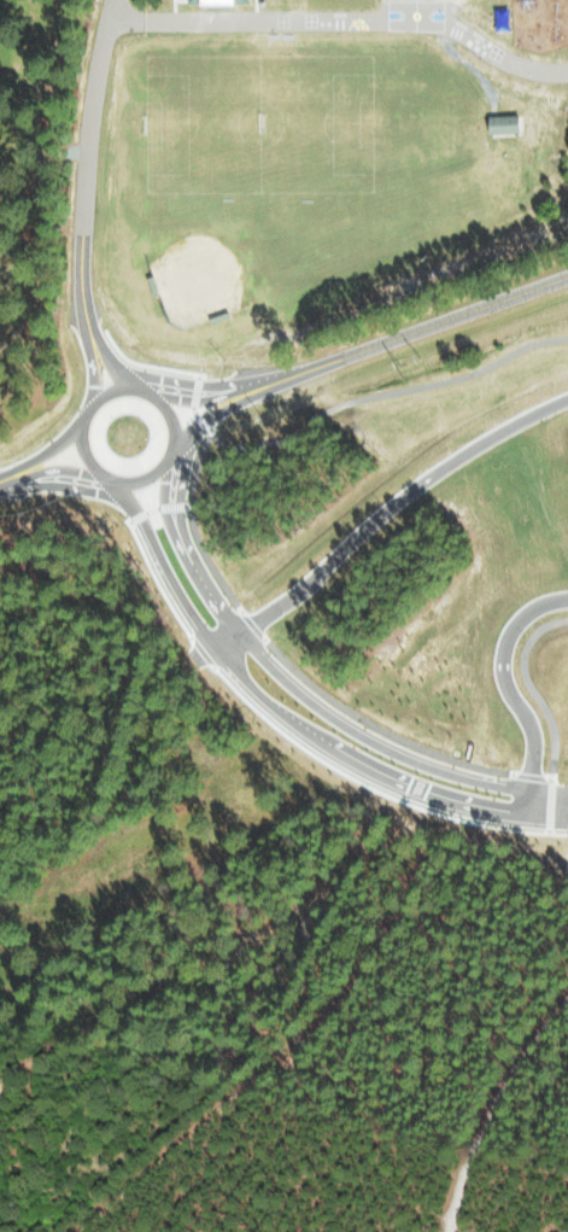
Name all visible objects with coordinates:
building: (212, 1)
building: (499, 122)
road: (82, 159)
road: (410, 332)
road: (111, 357)
road: (90, 364)
road: (182, 381)
road: (379, 393)
road: (203, 398)
road: (207, 416)
road: (43, 452)
road: (51, 468)
road: (99, 473)
road: (181, 479)
road: (72, 486)
road: (394, 501)
road: (216, 644)
road: (509, 690)
road: (300, 695)
road: (291, 720)

